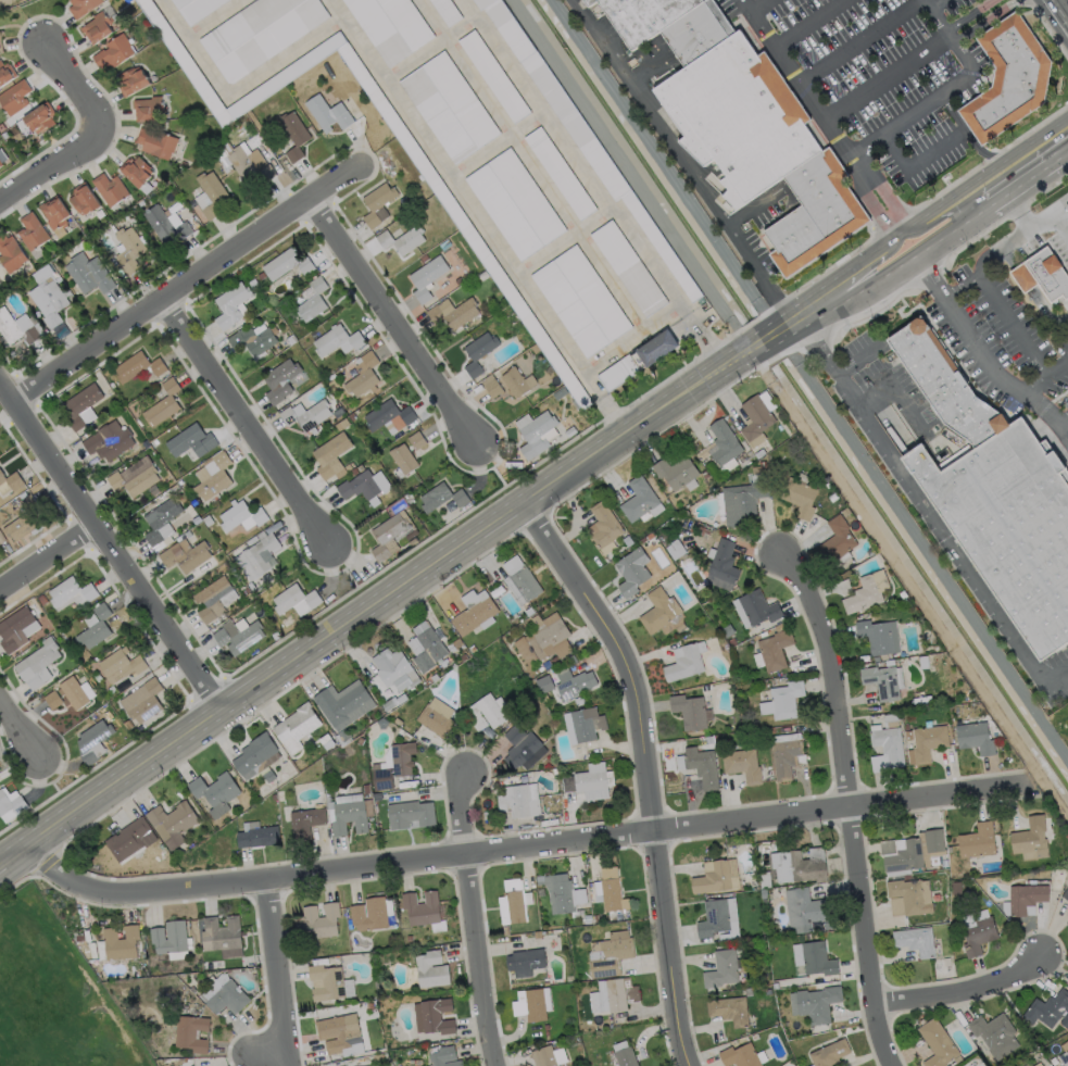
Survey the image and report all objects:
road: (757, 3)
road: (937, 3)
building: (81, 5)
building: (194, 8)
building: (447, 10)
road: (1057, 13)
road: (965, 16)
road: (938, 18)
road: (988, 20)
road: (806, 21)
building: (96, 25)
building: (391, 26)
building: (257, 33)
building: (0, 35)
building: (0, 38)
road: (859, 39)
building: (0, 47)
building: (114, 51)
building: (5, 73)
building: (335, 74)
building: (493, 74)
road: (797, 76)
road: (885, 76)
building: (131, 80)
building: (1007, 80)
road: (951, 81)
building: (15, 97)
building: (450, 105)
building: (148, 108)
building: (331, 112)
building: (40, 117)
road: (892, 122)
building: (741, 125)
building: (293, 134)
building: (583, 135)
road: (98, 137)
road: (1034, 139)
building: (155, 140)
road: (981, 148)
road: (681, 161)
building: (0, 163)
building: (250, 163)
road: (915, 164)
building: (135, 168)
road: (858, 168)
building: (558, 172)
building: (110, 188)
building: (209, 193)
road: (951, 197)
building: (83, 198)
building: (377, 203)
building: (514, 203)
road: (891, 203)
building: (450, 204)
building: (1067, 206)
road: (1019, 210)
building: (54, 211)
road: (1052, 211)
road: (878, 212)
road: (944, 214)
road: (1060, 221)
building: (165, 224)
building: (32, 230)
building: (402, 238)
road: (933, 242)
building: (129, 249)
building: (10, 252)
road: (988, 255)
road: (865, 256)
building: (287, 263)
building: (628, 267)
road: (865, 269)
building: (89, 273)
road: (931, 275)
building: (1043, 275)
building: (427, 277)
road: (189, 284)
road: (1029, 289)
building: (312, 300)
building: (581, 300)
road: (811, 302)
building: (50, 304)
building: (230, 304)
building: (453, 312)
road: (398, 323)
road: (1015, 324)
road: (787, 326)
building: (16, 327)
building: (252, 337)
building: (337, 340)
road: (762, 343)
building: (478, 352)
road: (854, 355)
building: (638, 359)
building: (138, 366)
building: (364, 373)
road: (1001, 378)
road: (1045, 378)
building: (282, 379)
building: (515, 380)
building: (491, 385)
road: (892, 387)
building: (561, 392)
building: (163, 403)
building: (81, 405)
building: (305, 414)
building: (389, 416)
building: (758, 416)
road: (1059, 423)
road: (254, 426)
building: (570, 430)
building: (536, 432)
building: (416, 437)
building: (108, 439)
building: (190, 440)
building: (724, 442)
building: (330, 454)
building: (402, 460)
building: (677, 472)
building: (213, 475)
building: (134, 476)
road: (501, 476)
building: (10, 482)
building: (365, 486)
building: (801, 494)
building: (992, 496)
building: (442, 497)
building: (640, 500)
building: (741, 500)
road: (929, 512)
building: (241, 516)
building: (25, 521)
building: (160, 522)
building: (604, 527)
building: (391, 534)
building: (839, 539)
road: (111, 544)
building: (185, 554)
building: (257, 555)
road: (49, 560)
building: (724, 564)
building: (632, 570)
road: (354, 579)
building: (520, 581)
building: (867, 592)
building: (72, 593)
building: (214, 599)
building: (294, 600)
road: (367, 607)
building: (759, 607)
building: (658, 610)
building: (475, 612)
building: (14, 628)
building: (96, 628)
building: (239, 632)
building: (882, 637)
building: (543, 639)
building: (454, 644)
building: (426, 645)
building: (776, 649)
building: (686, 661)
building: (38, 663)
building: (121, 665)
building: (394, 668)
building: (884, 681)
building: (577, 685)
building: (76, 692)
building: (53, 700)
building: (142, 701)
building: (783, 701)
building: (343, 703)
building: (487, 712)
building: (691, 712)
building: (437, 717)
building: (891, 720)
building: (585, 725)
building: (297, 728)
road: (21, 730)
building: (909, 735)
building: (975, 735)
building: (93, 741)
building: (326, 741)
building: (928, 743)
building: (523, 748)
building: (889, 750)
building: (255, 754)
building: (788, 758)
building: (743, 765)
building: (392, 766)
building: (701, 766)
road: (646, 767)
building: (590, 781)
road: (59, 787)
building: (215, 792)
building: (519, 800)
road: (847, 803)
building: (11, 804)
building: (410, 814)
building: (348, 816)
building: (305, 823)
building: (172, 824)
building: (256, 836)
building: (1032, 838)
building: (127, 839)
building: (977, 841)
road: (516, 848)
building: (913, 849)
building: (799, 864)
building: (716, 876)
building: (765, 879)
building: (1058, 879)
building: (608, 890)
building: (562, 892)
building: (1066, 893)
building: (909, 896)
building: (1027, 898)
building: (511, 902)
building: (804, 908)
building: (423, 910)
building: (369, 914)
building: (718, 919)
building: (316, 920)
road: (472, 920)
building: (1067, 923)
building: (219, 932)
building: (979, 935)
building: (168, 939)
building: (915, 939)
building: (118, 941)
building: (608, 954)
building: (813, 958)
building: (524, 961)
building: (721, 968)
building: (430, 969)
road: (275, 974)
building: (328, 985)
road: (966, 989)
building: (616, 994)
building: (227, 998)
building: (531, 1003)
building: (814, 1003)
building: (1047, 1008)
building: (730, 1009)
building: (432, 1016)
building: (337, 1032)
building: (191, 1033)
building: (994, 1034)
building: (937, 1043)
building: (829, 1053)
building: (740, 1055)
building: (442, 1056)
building: (543, 1056)
building: (625, 1056)
building: (1064, 1057)
building: (1038, 1064)
building: (367, 1065)

